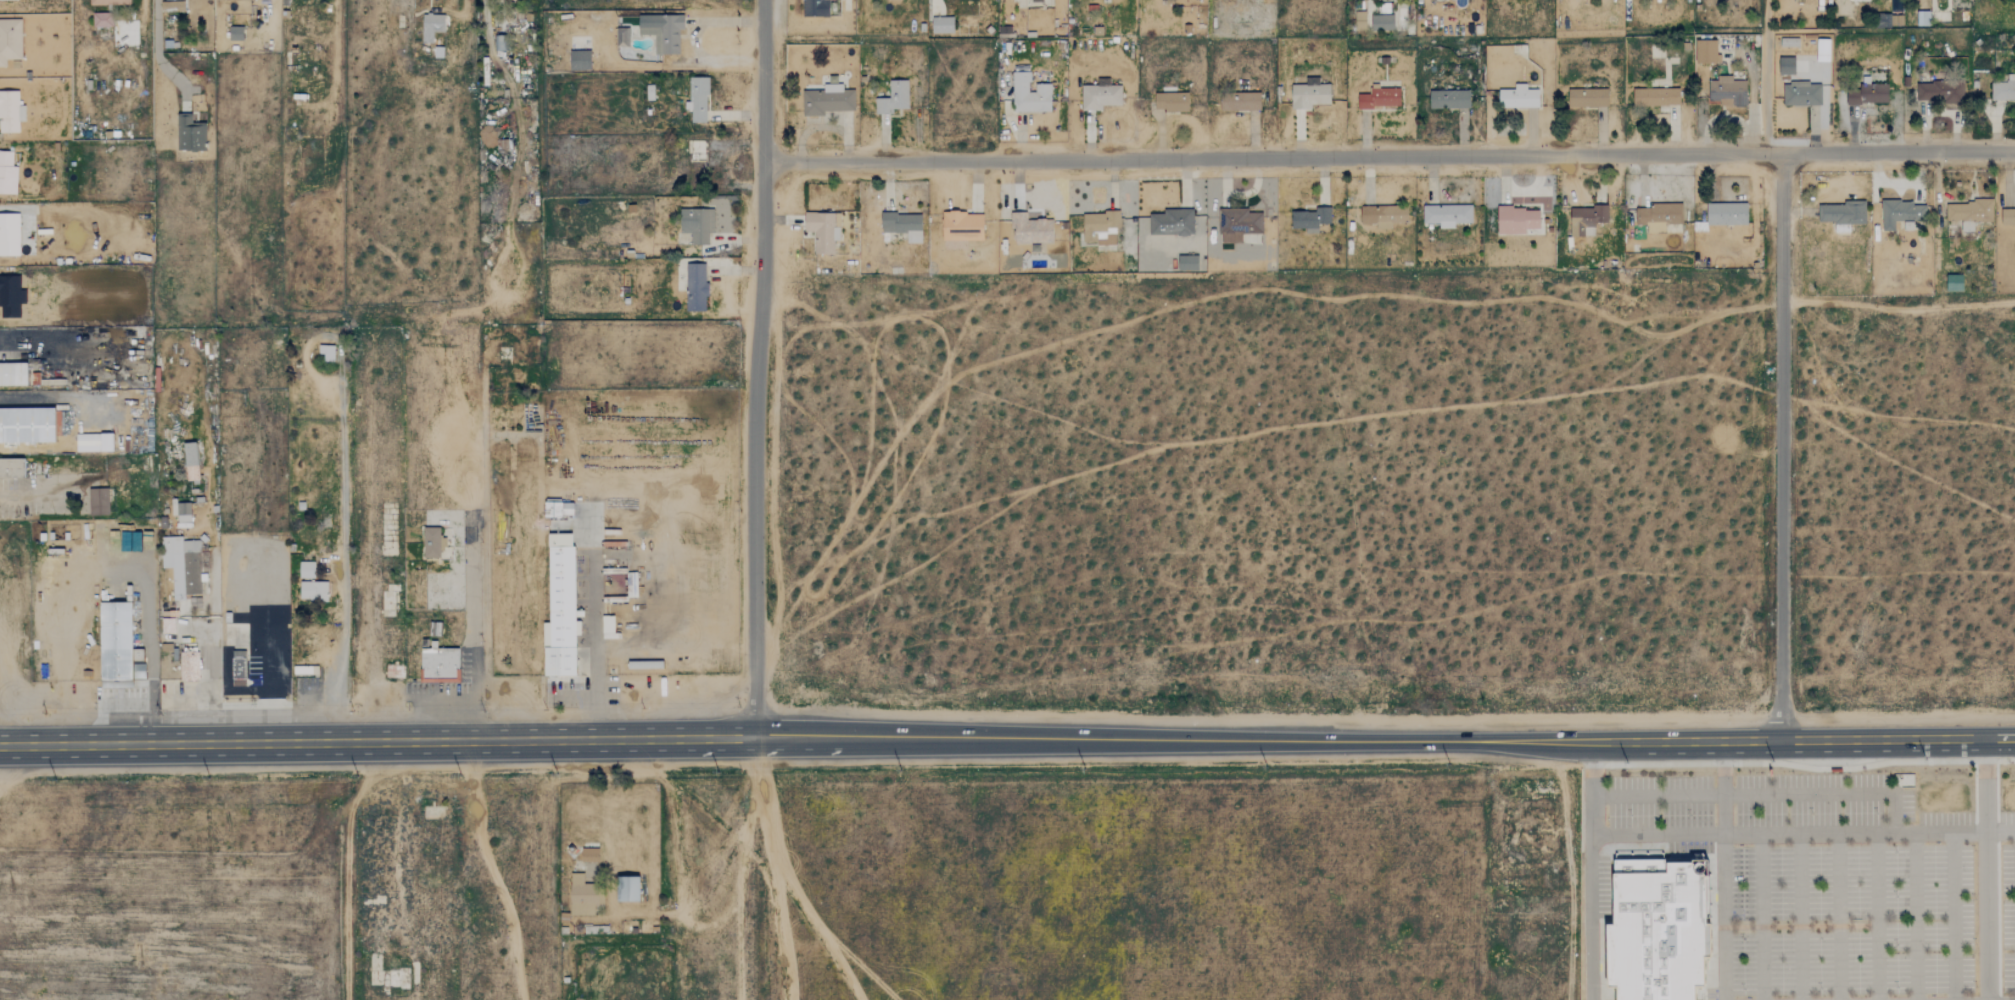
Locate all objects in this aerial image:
building: (7, 0)
building: (239, 0)
building: (1862, 0)
building: (1037, 1)
building: (108, 2)
building: (819, 6)
road: (463, 7)
road: (156, 17)
building: (1922, 18)
building: (101, 20)
building: (1360, 21)
building: (942, 22)
building: (1381, 22)
building: (432, 23)
building: (662, 29)
building: (235, 30)
building: (622, 35)
building: (10, 38)
building: (1822, 50)
building: (1705, 52)
building: (580, 58)
building: (1786, 66)
road: (164, 67)
building: (2003, 90)
building: (1726, 91)
building: (1939, 91)
building: (1801, 94)
building: (1866, 94)
building: (1029, 95)
building: (1309, 95)
building: (1100, 96)
building: (1518, 97)
building: (1656, 97)
building: (893, 98)
building: (1379, 98)
building: (1587, 98)
building: (697, 99)
building: (1449, 99)
building: (827, 100)
building: (1170, 101)
building: (1242, 102)
building: (10, 109)
building: (192, 130)
road: (1390, 154)
building: (7, 172)
building: (1969, 212)
building: (1726, 213)
building: (1901, 213)
building: (1446, 214)
building: (1842, 214)
building: (1383, 215)
building: (2008, 215)
building: (1657, 216)
building: (1310, 218)
building: (1516, 219)
building: (1586, 219)
building: (698, 222)
building: (1171, 222)
building: (1238, 223)
building: (902, 225)
building: (961, 226)
building: (1099, 226)
building: (822, 231)
building: (1031, 231)
building: (9, 235)
building: (1187, 262)
building: (1953, 282)
building: (696, 285)
building: (11, 293)
building: (325, 352)
road: (758, 369)
building: (14, 373)
building: (28, 425)
building: (93, 442)
road: (1781, 445)
building: (190, 461)
building: (12, 469)
building: (97, 501)
building: (557, 508)
building: (181, 513)
building: (432, 542)
building: (182, 565)
building: (306, 570)
road: (344, 581)
building: (313, 591)
building: (560, 609)
road: (474, 625)
building: (118, 646)
road: (151, 660)
building: (177, 662)
building: (239, 664)
building: (439, 664)
parking lot: (450, 687)
parking lot: (189, 694)
parking lot: (120, 696)
road: (1804, 739)
road: (376, 741)
road: (1173, 741)
road: (1724, 766)
road: (1804, 766)
road: (1592, 788)
road: (1658, 794)
road: (1895, 812)
road: (1724, 814)
road: (1955, 832)
road: (1658, 835)
building: (589, 855)
road: (1987, 868)
road: (773, 869)
parking lot: (1847, 881)
building: (627, 889)
building: (583, 896)
road: (1877, 916)
road: (1915, 916)
road: (1953, 916)
road: (1590, 917)
road: (1724, 917)
road: (1761, 917)
road: (1799, 917)
road: (1838, 917)
building: (1658, 926)

